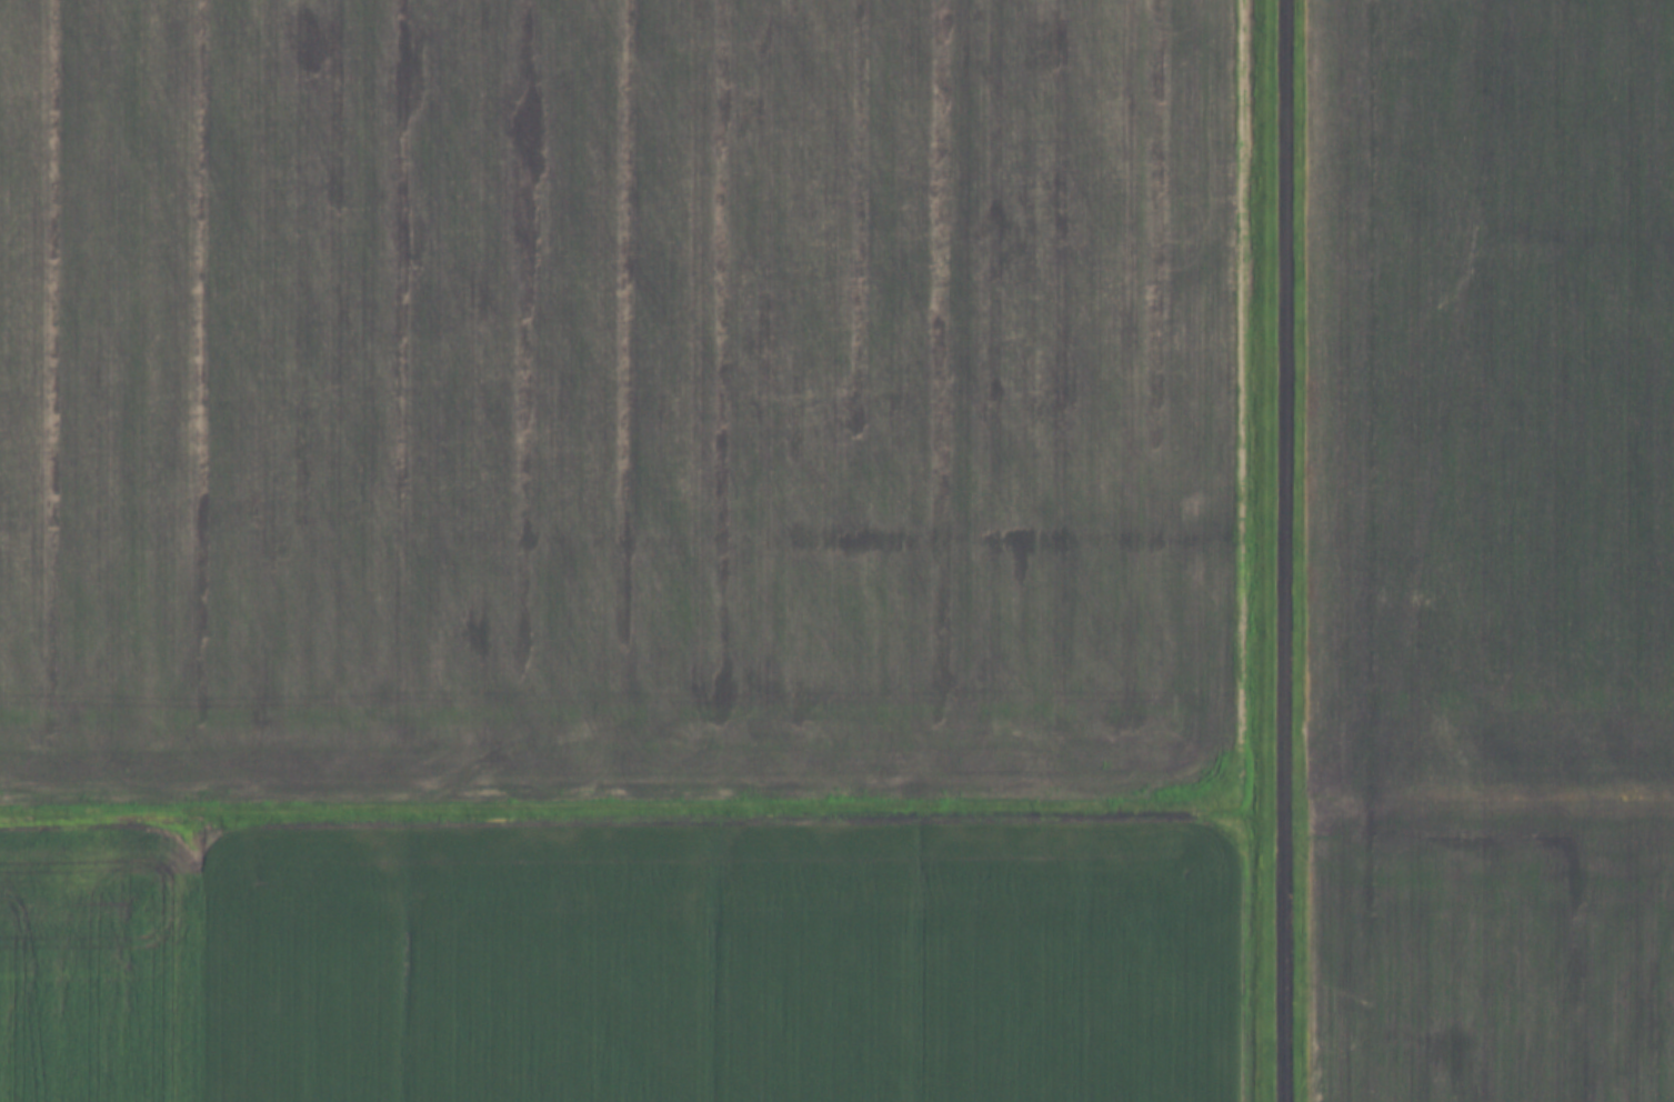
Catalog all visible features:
road: (1287, 550)

